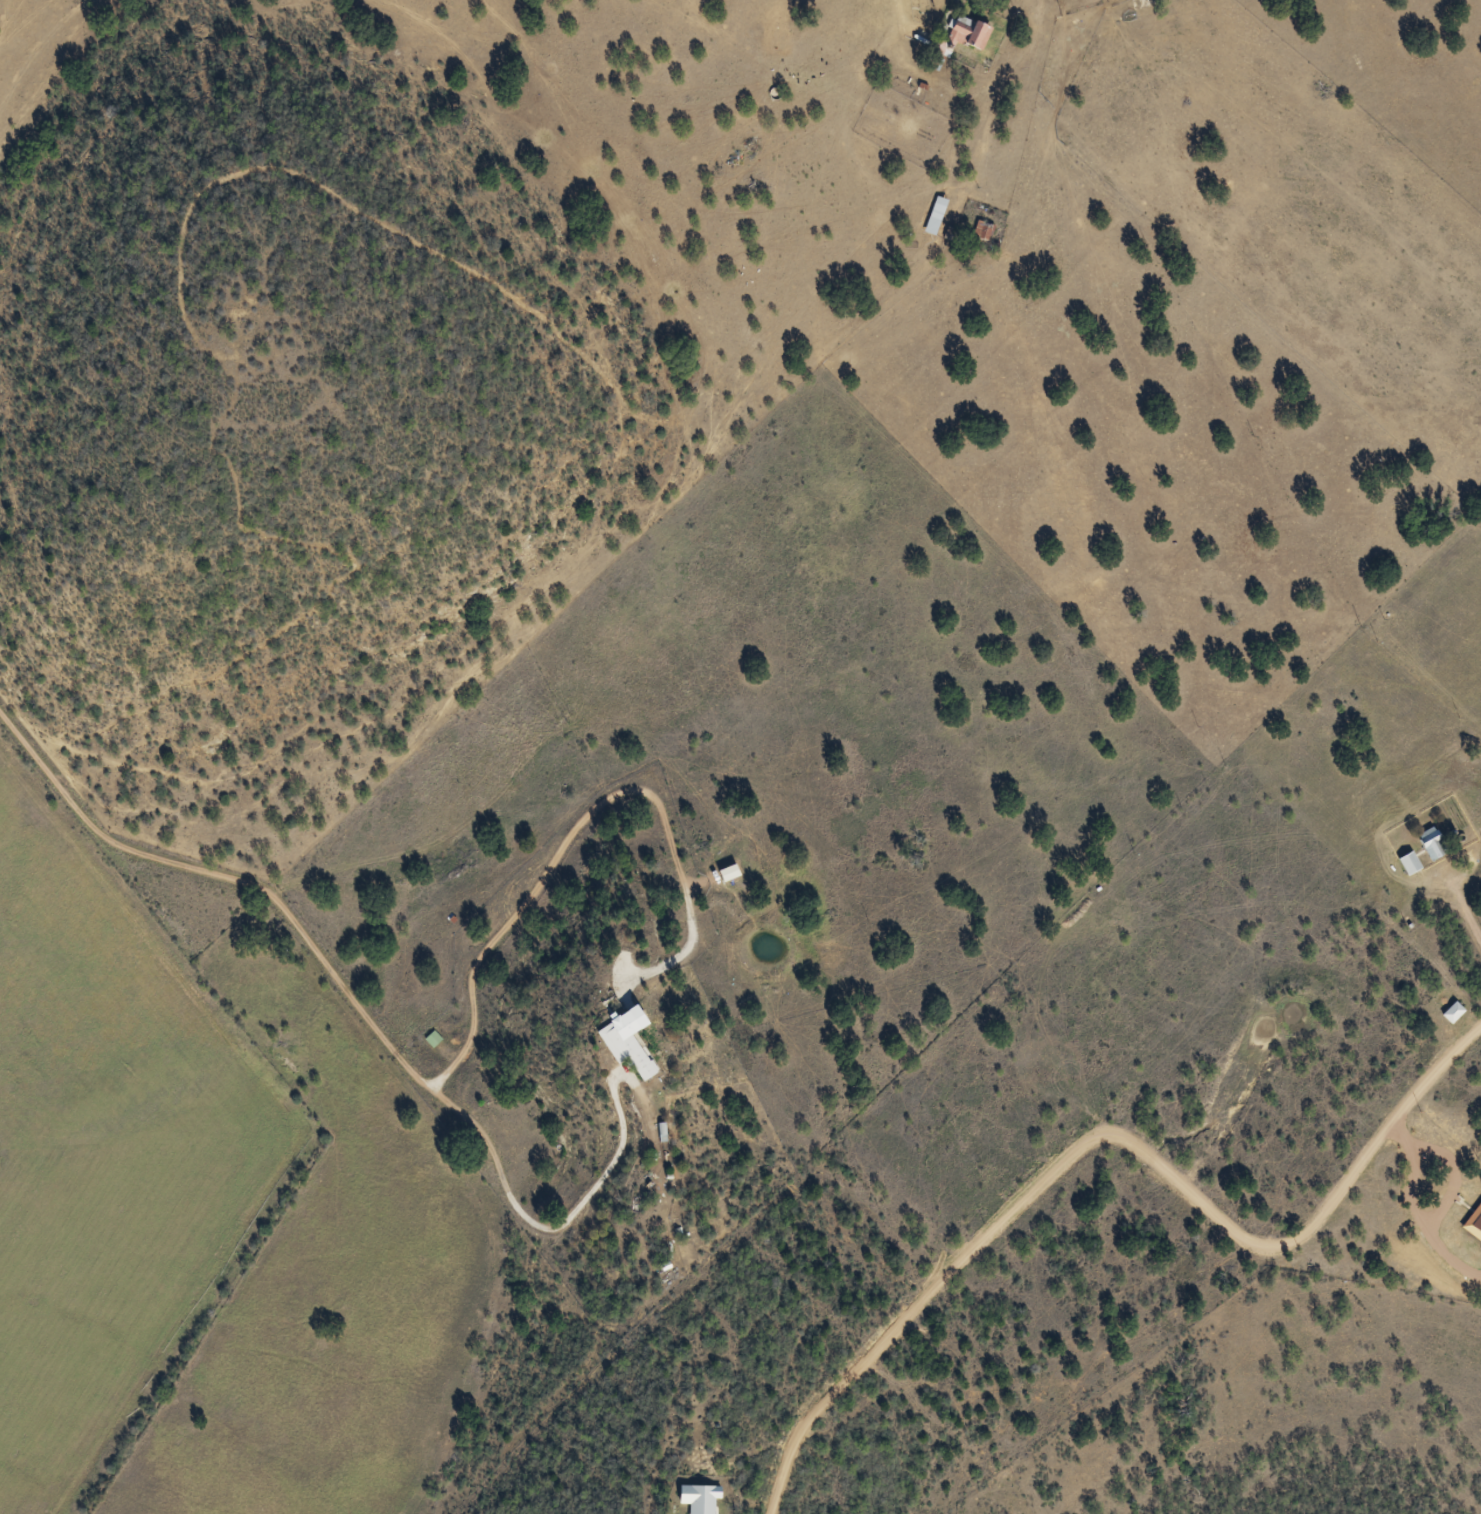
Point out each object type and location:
building: (967, 33)
building: (942, 52)
road: (605, 378)
building: (1431, 845)
building: (1408, 864)
road: (1466, 925)
building: (1452, 1013)
building: (434, 1040)
building: (624, 1042)
road: (1212, 1301)

